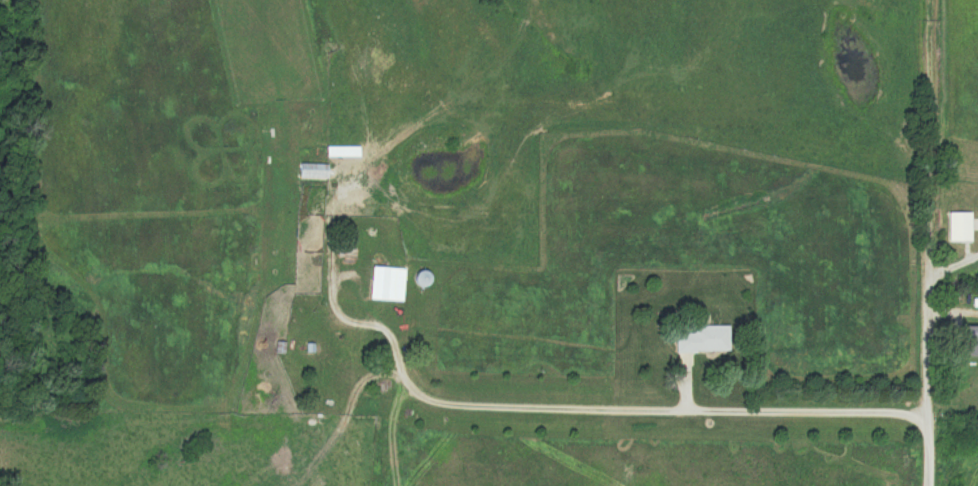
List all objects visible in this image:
building: (312, 170)
building: (958, 225)
building: (420, 277)
building: (385, 282)
building: (700, 338)
building: (971, 340)
road: (905, 449)

